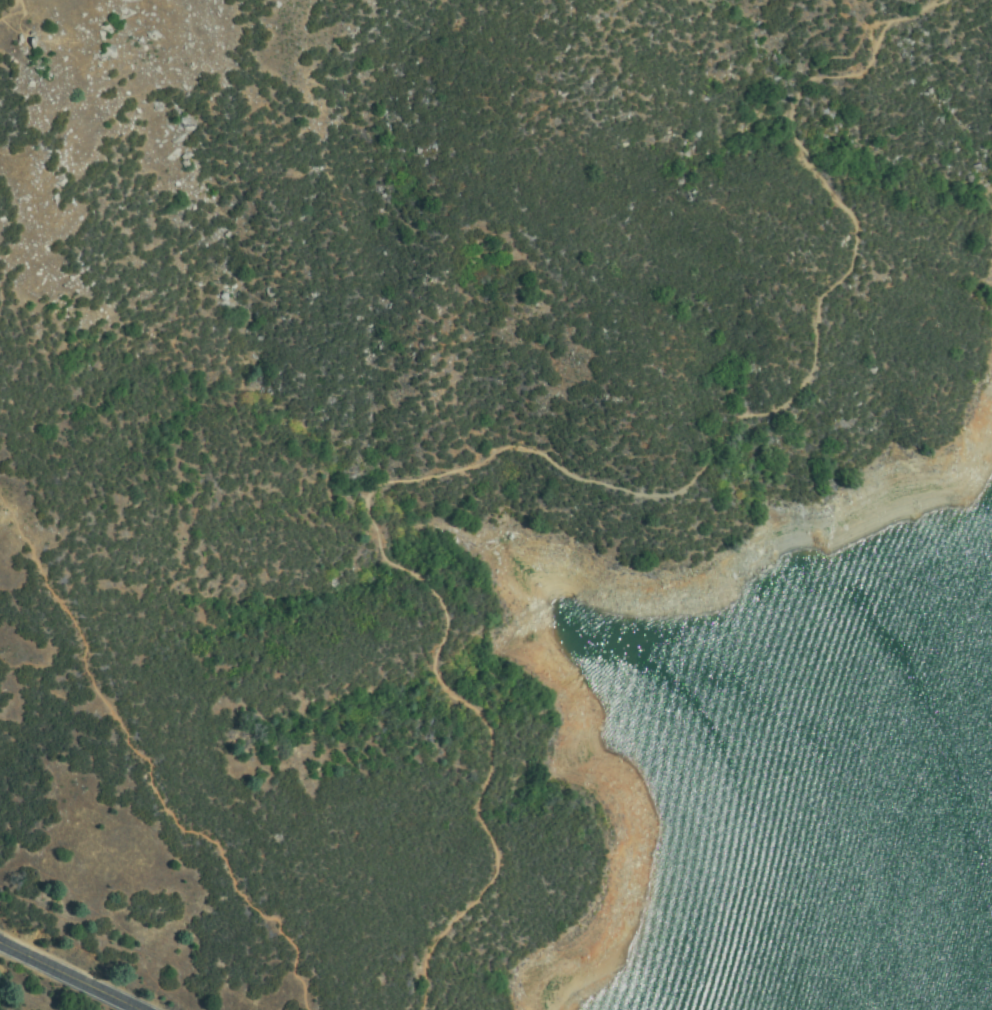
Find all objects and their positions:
road: (564, 469)
road: (67, 977)

